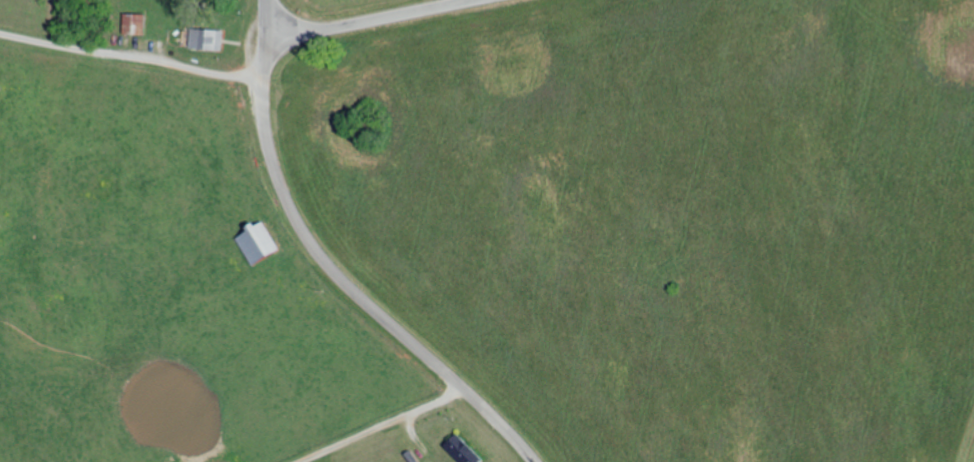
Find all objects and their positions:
road: (265, 4)
road: (359, 21)
building: (132, 22)
building: (204, 38)
road: (332, 268)
road: (162, 322)
building: (460, 449)

